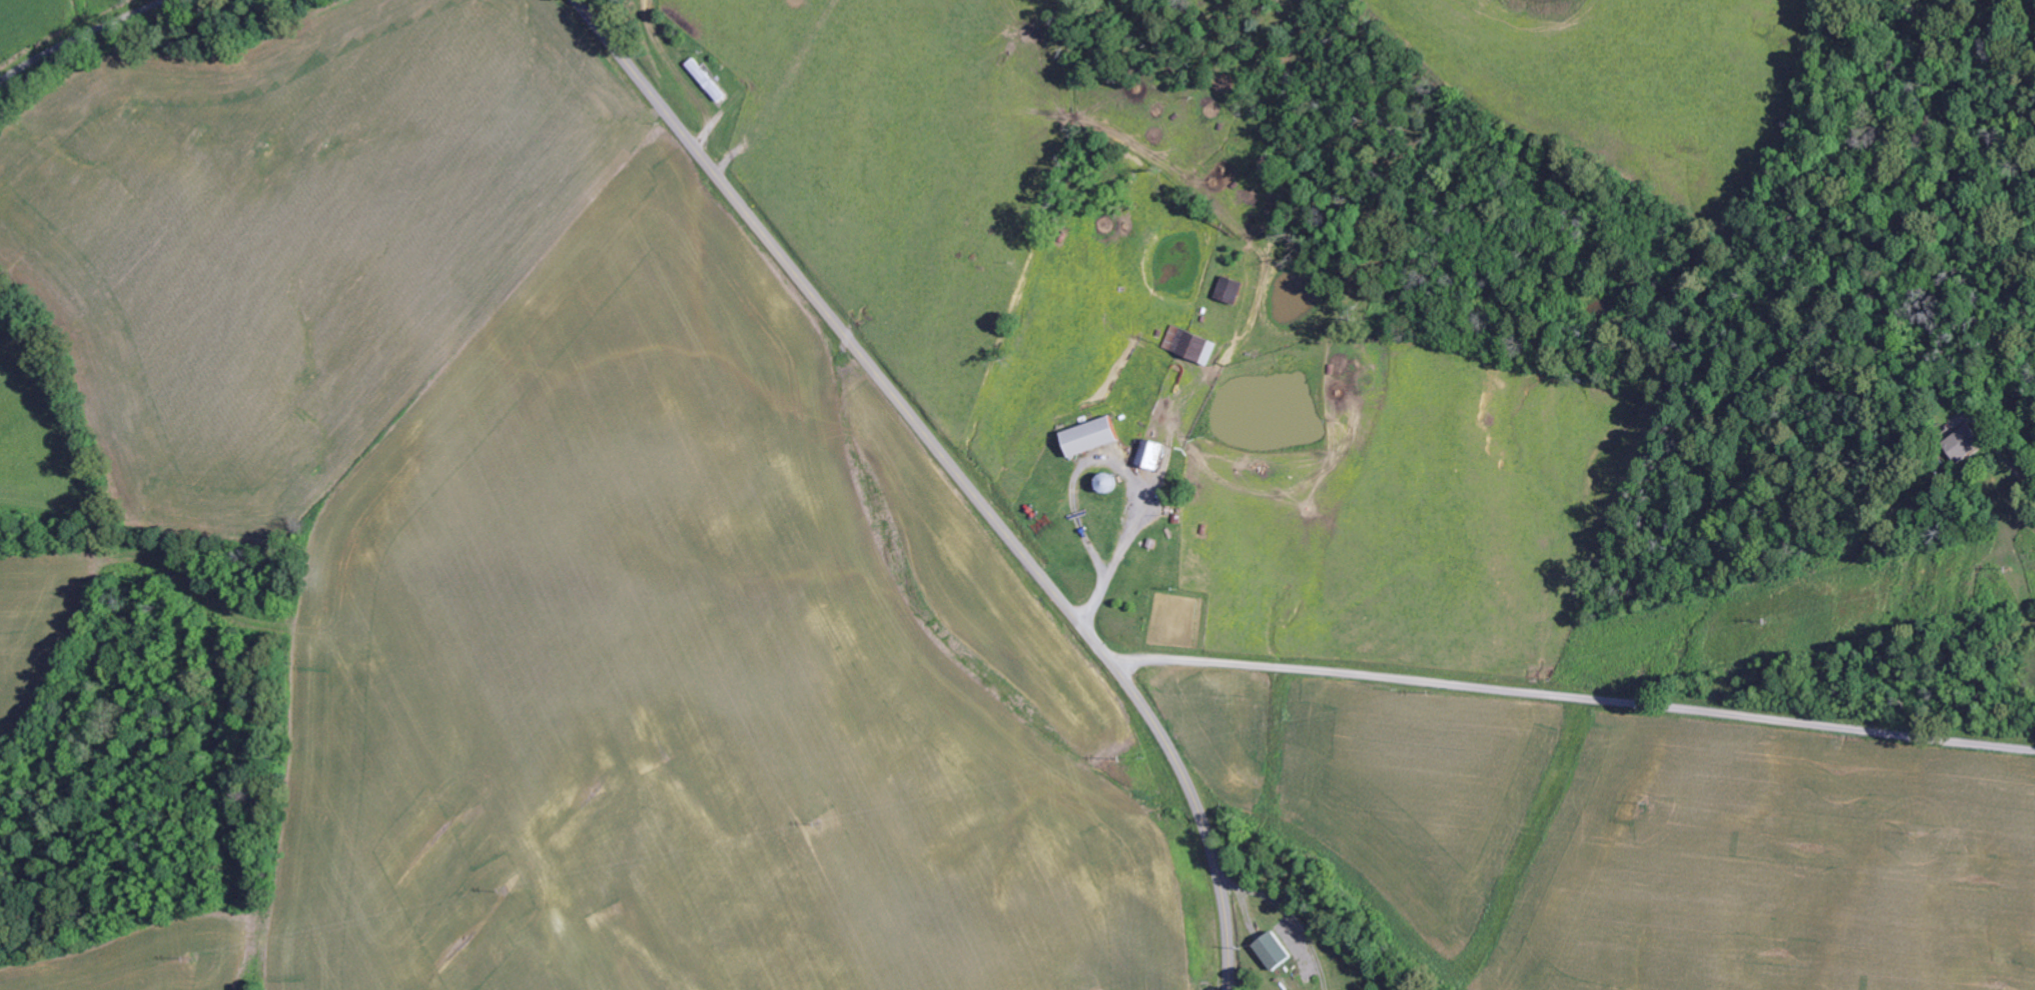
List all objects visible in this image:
road: (78, 36)
building: (708, 80)
building: (1233, 291)
building: (1193, 345)
building: (1094, 437)
building: (1154, 455)
road: (956, 470)
road: (1574, 696)
building: (1279, 950)

